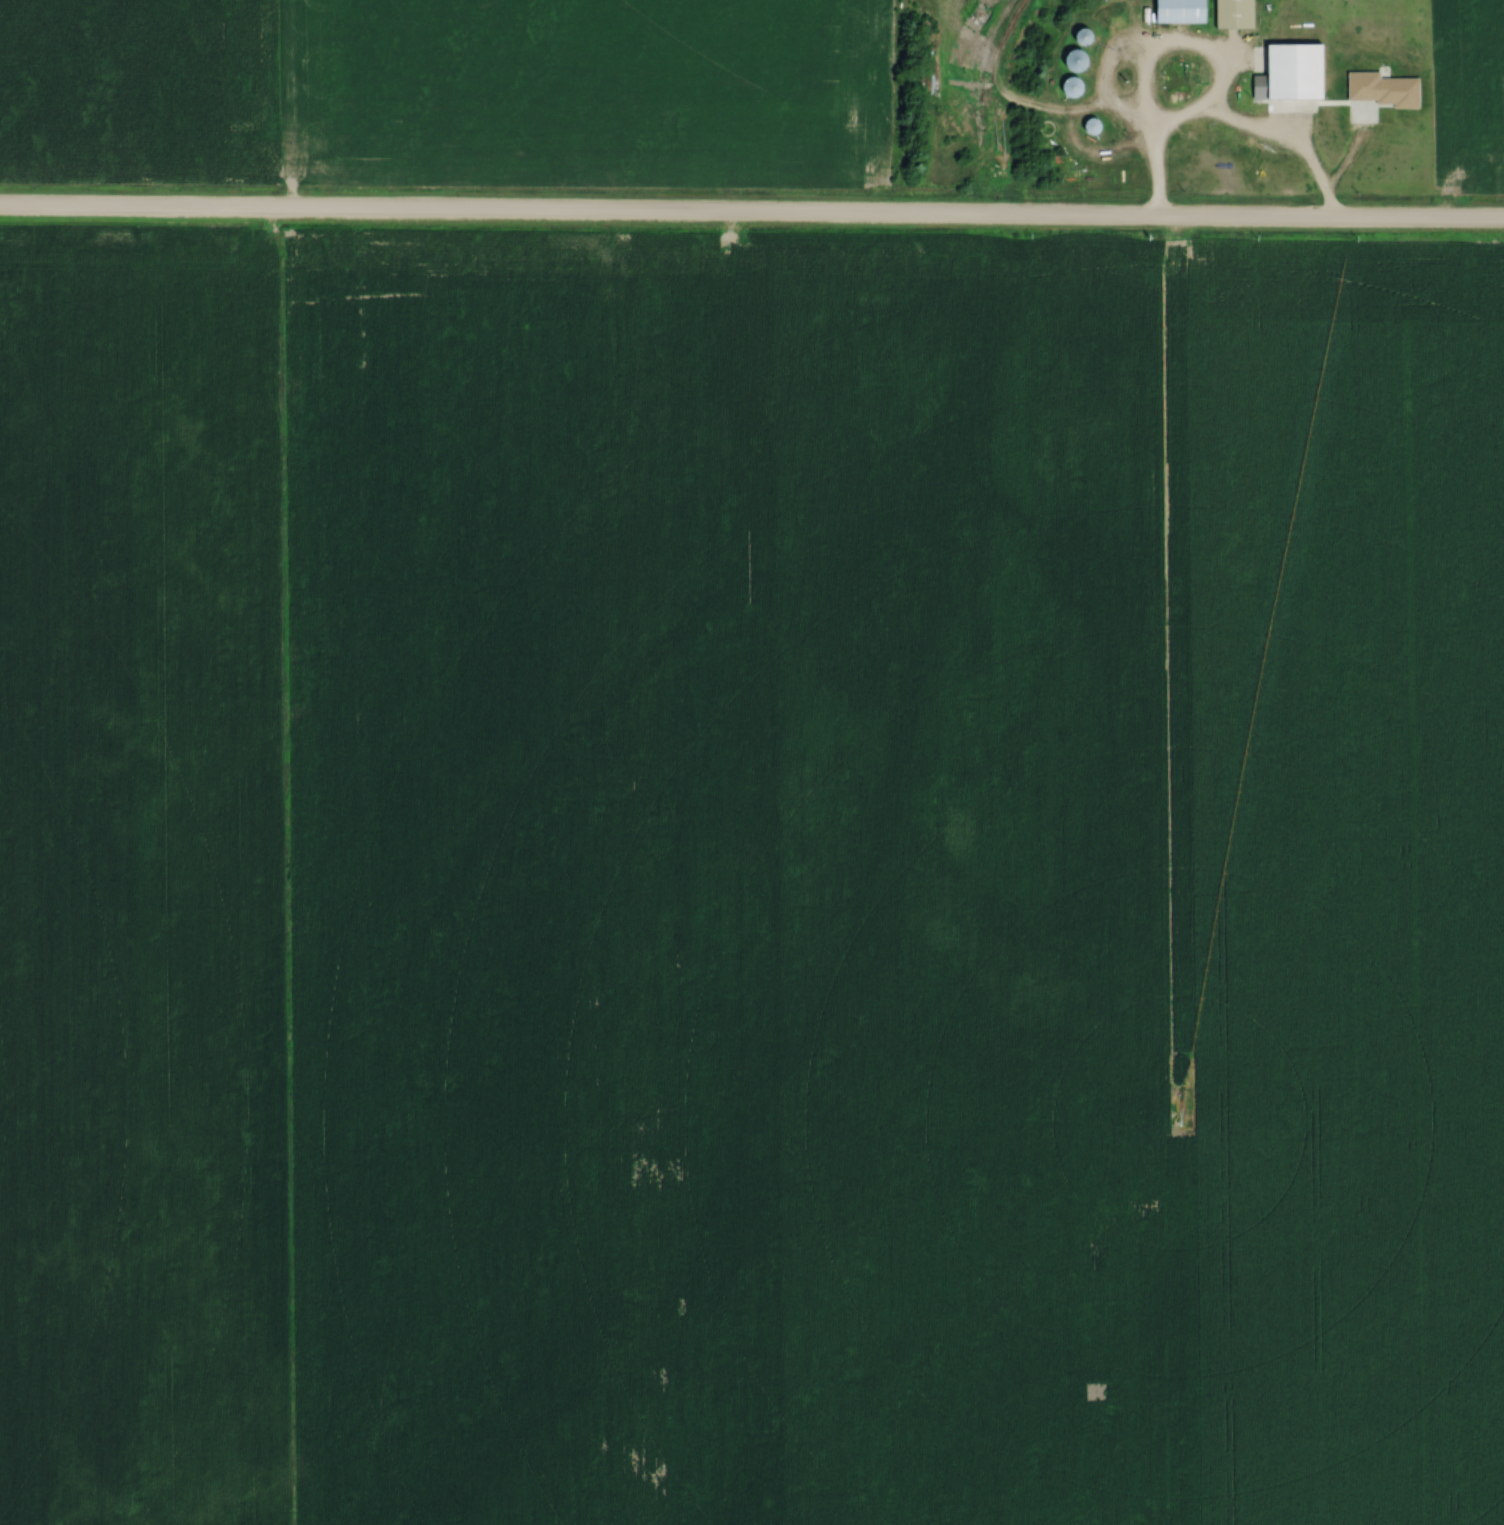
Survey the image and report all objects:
building: (1185, 12)
building: (1238, 14)
building: (1088, 36)
road: (1158, 52)
building: (1077, 60)
building: (1291, 75)
building: (1073, 86)
building: (1095, 127)
road: (1154, 174)
road: (752, 214)

